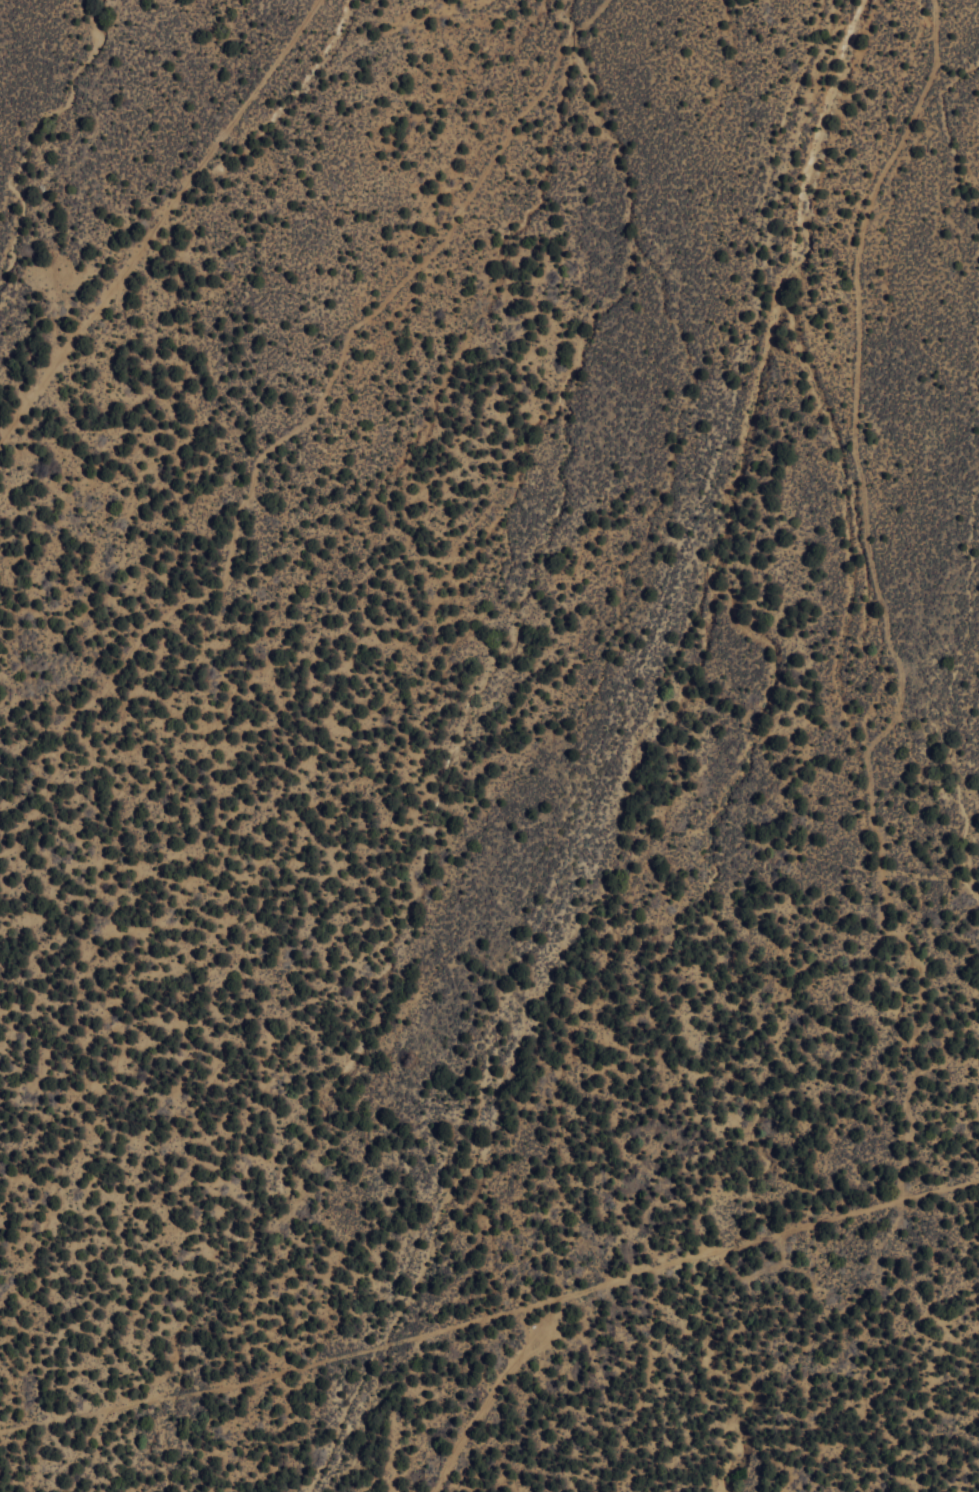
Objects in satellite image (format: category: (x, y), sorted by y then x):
road: (846, 405)
road: (579, 763)

